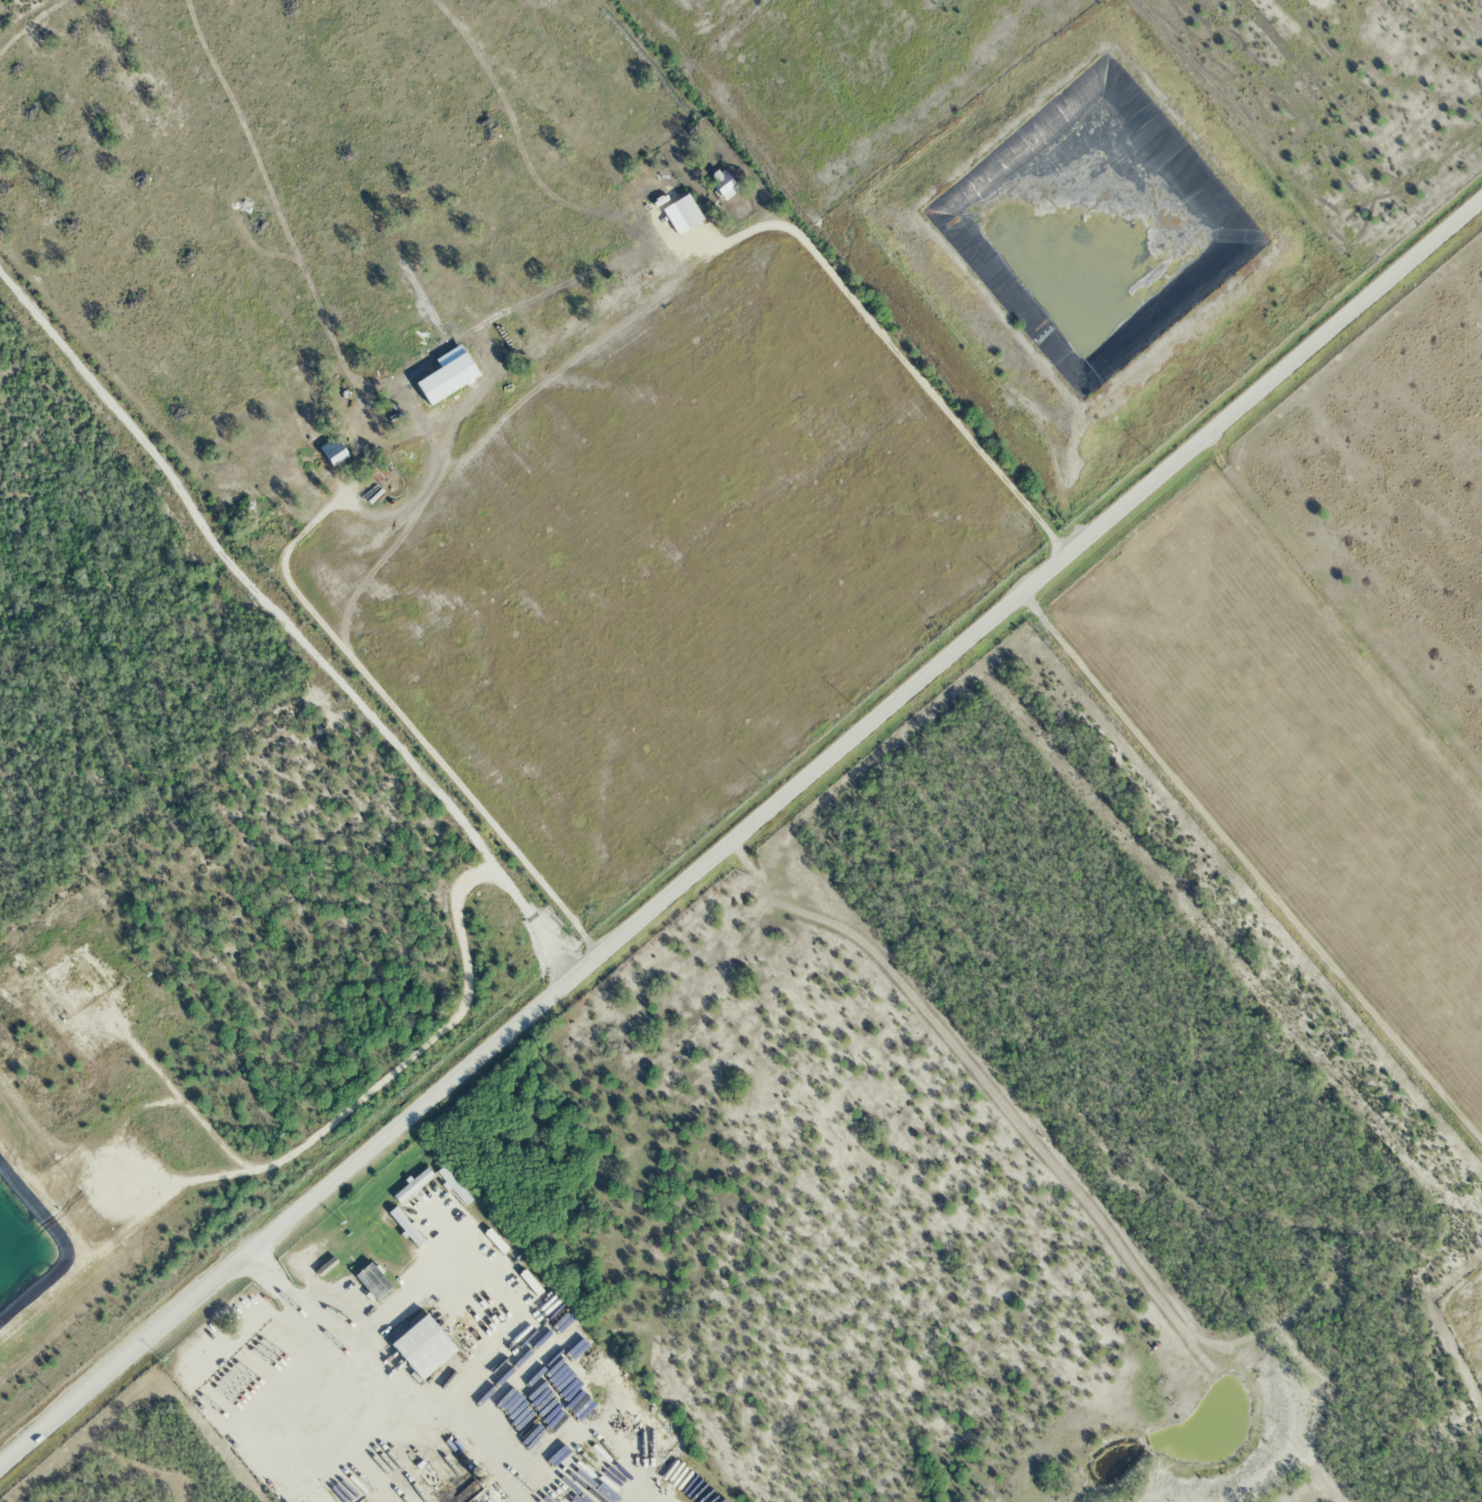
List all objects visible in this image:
building: (722, 184)
building: (684, 212)
road: (903, 356)
building: (330, 453)
building: (371, 468)
road: (287, 617)
road: (407, 722)
road: (739, 828)
road: (1249, 867)
road: (175, 1100)
road: (334, 1107)
road: (504, 1291)
road: (348, 1373)

